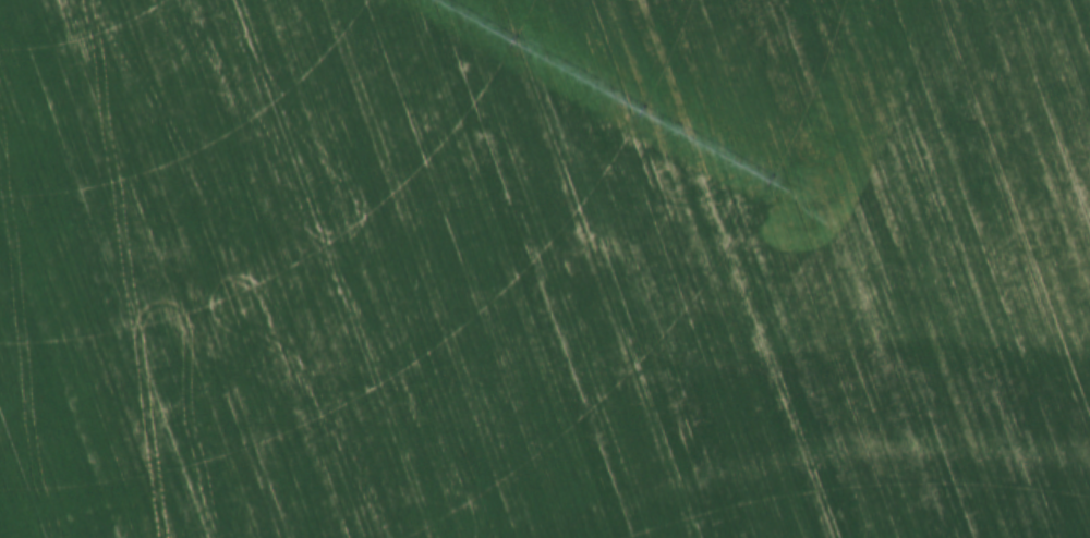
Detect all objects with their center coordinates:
road: (35, 303)

